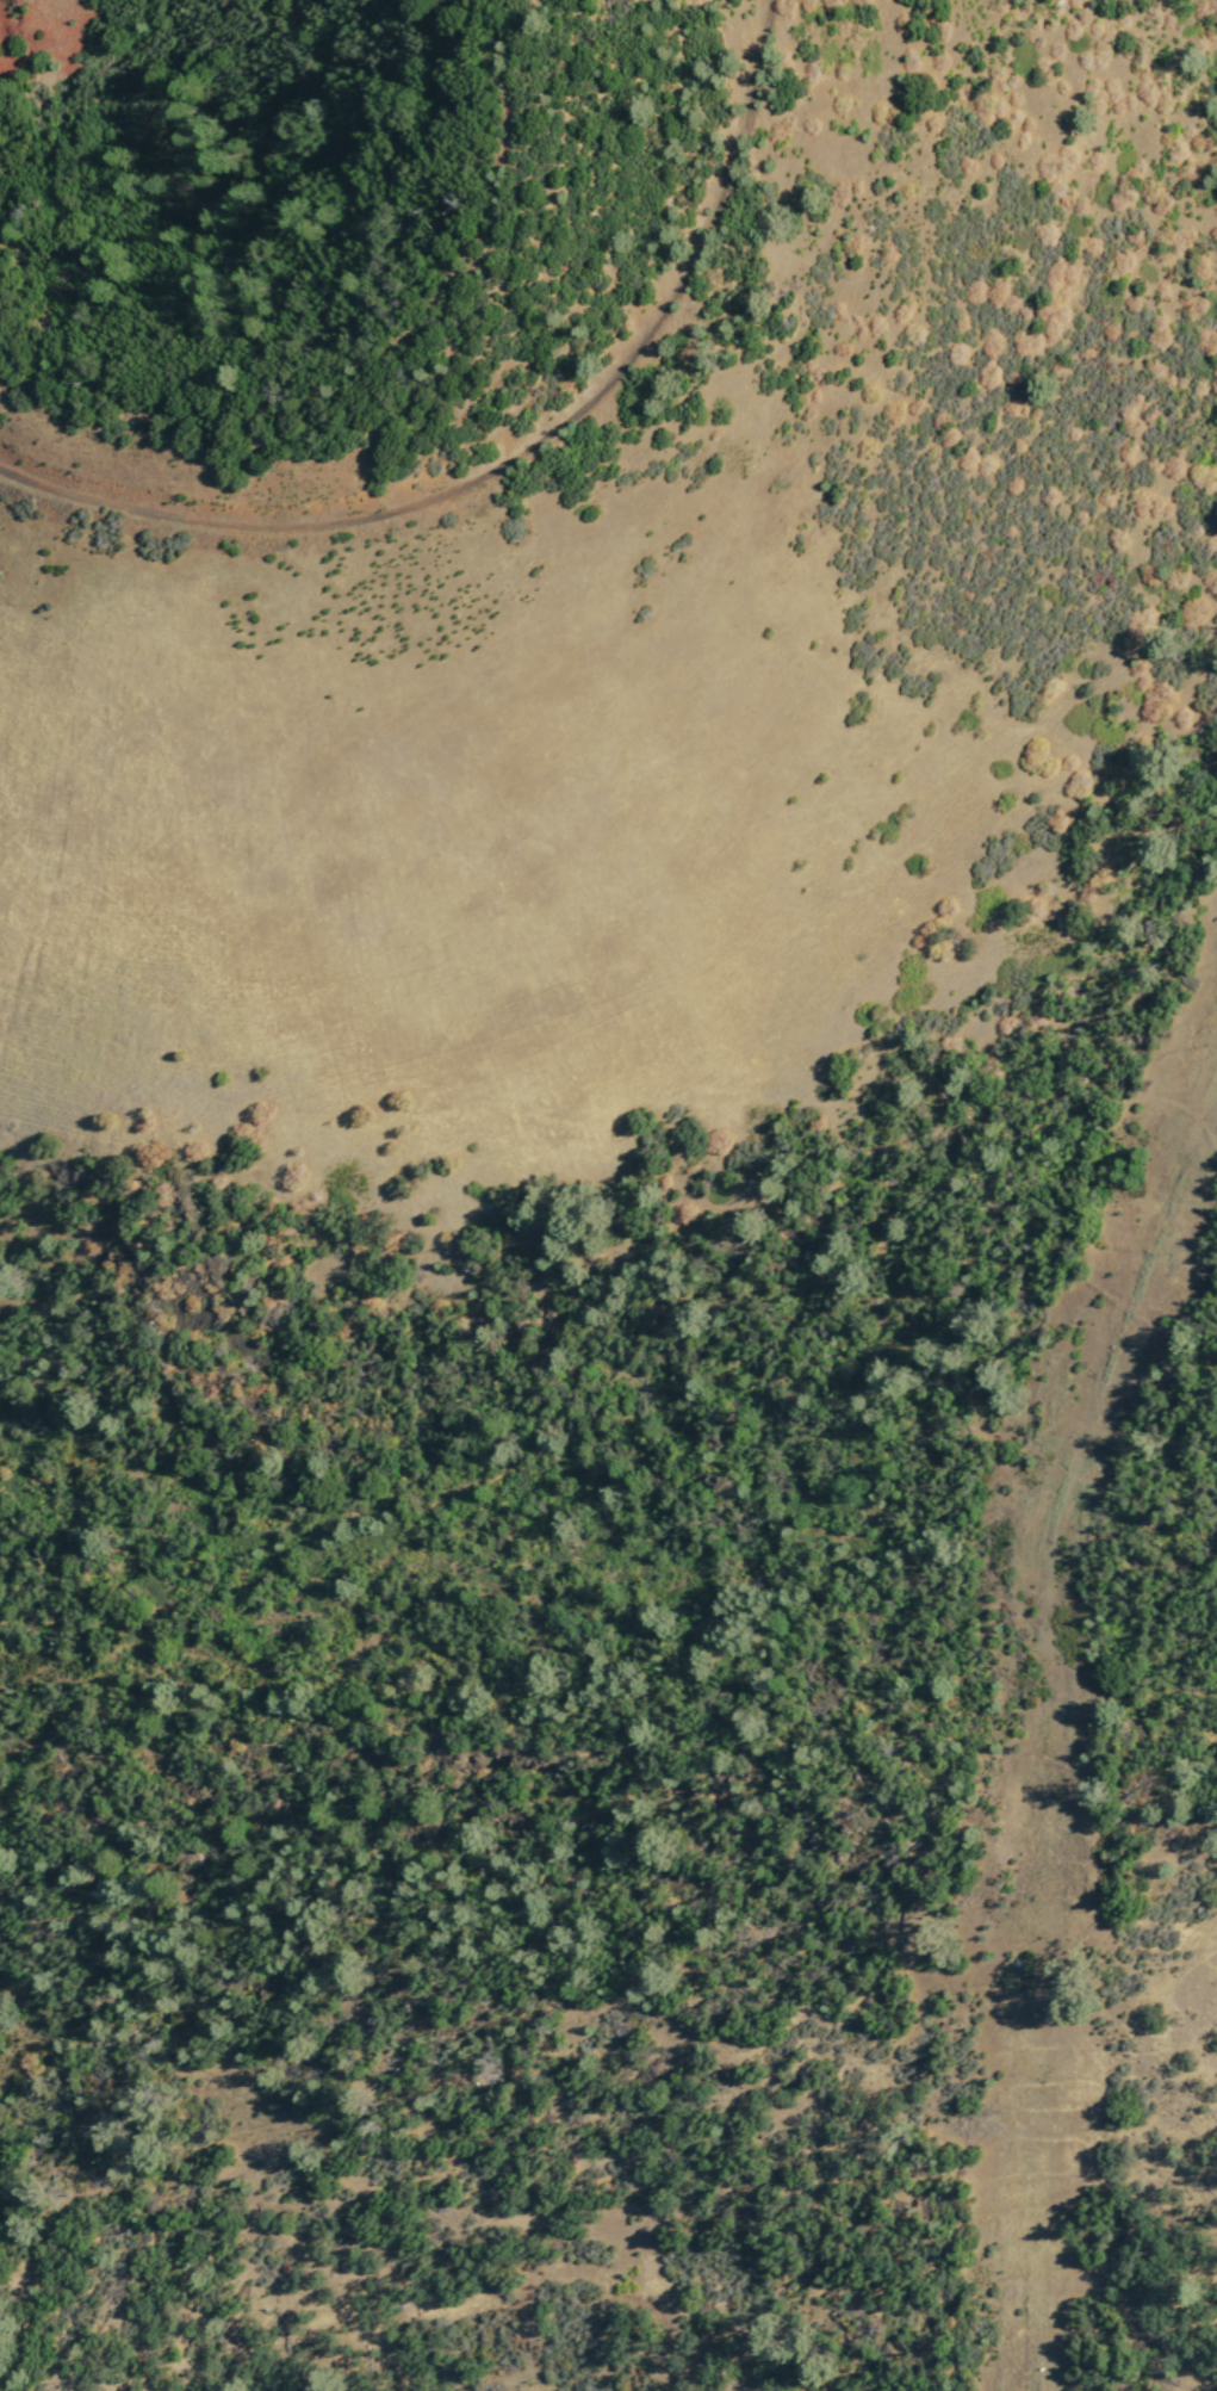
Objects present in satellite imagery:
quarry: (44, 38)
road: (521, 458)

